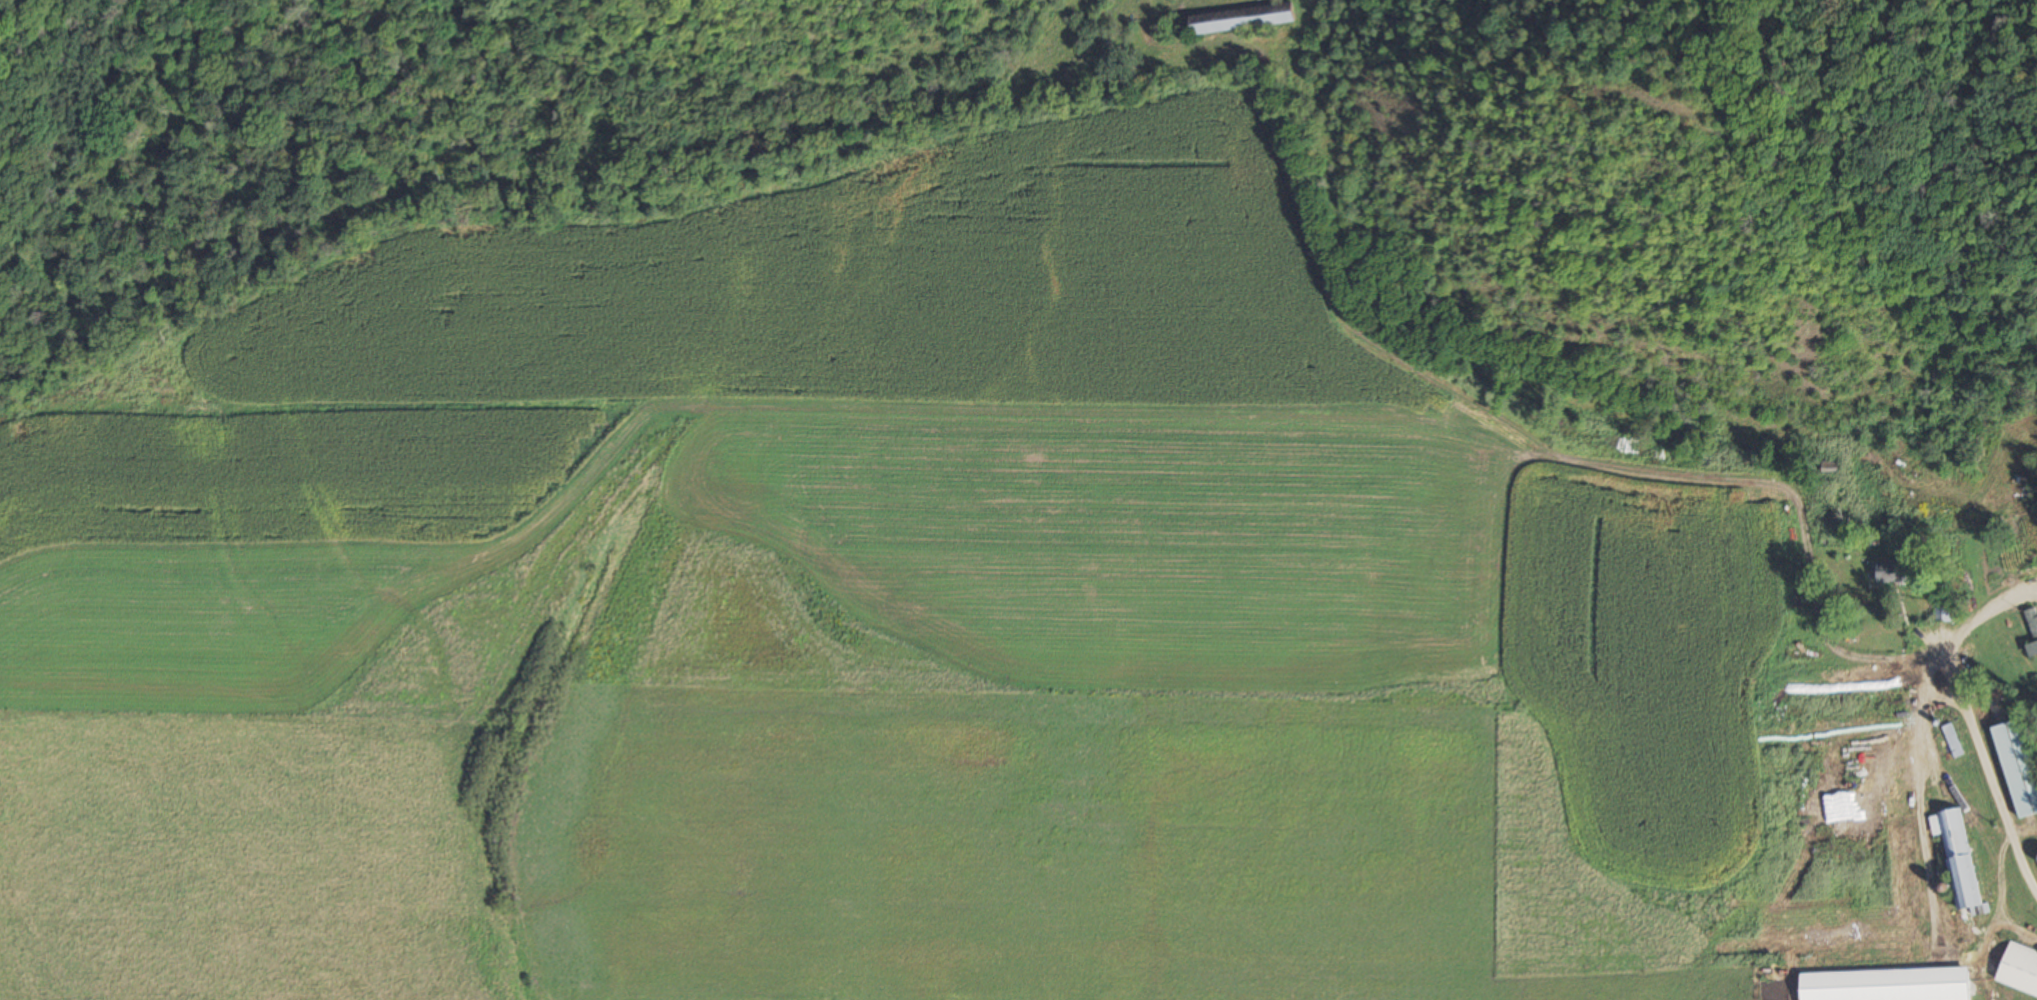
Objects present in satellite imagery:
building: (1260, 15)
building: (1201, 25)
building: (1886, 572)
building: (2031, 626)
building: (1951, 741)
building: (2016, 765)
building: (1955, 857)
building: (2017, 970)
building: (1880, 985)

